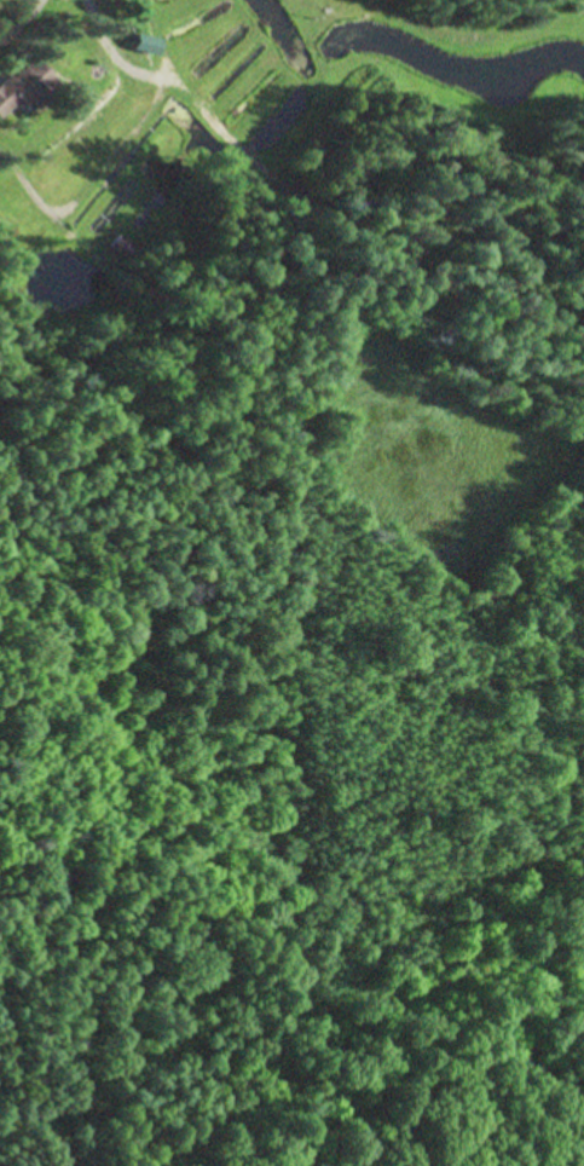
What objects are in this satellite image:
building: (151, 45)
building: (30, 88)

